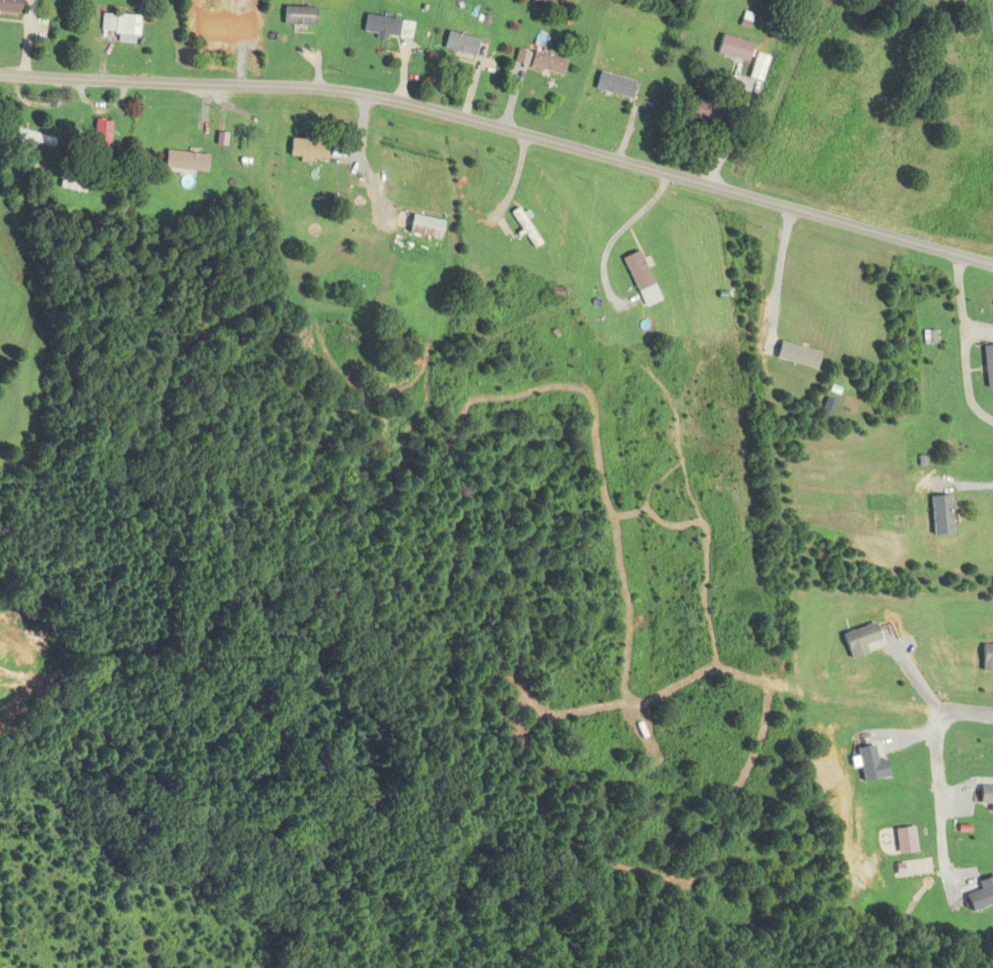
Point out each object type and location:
building: (8, 6)
building: (221, 14)
building: (297, 15)
building: (118, 26)
building: (386, 27)
building: (459, 43)
building: (732, 48)
building: (545, 63)
building: (613, 84)
building: (704, 111)
building: (100, 132)
road: (502, 133)
building: (306, 148)
road: (363, 153)
building: (184, 161)
building: (423, 226)
road: (778, 274)
building: (639, 279)
road: (965, 346)
building: (987, 367)
road: (965, 485)
building: (938, 515)
building: (858, 640)
building: (986, 658)
building: (870, 762)
road: (941, 769)
building: (985, 796)
building: (980, 895)

